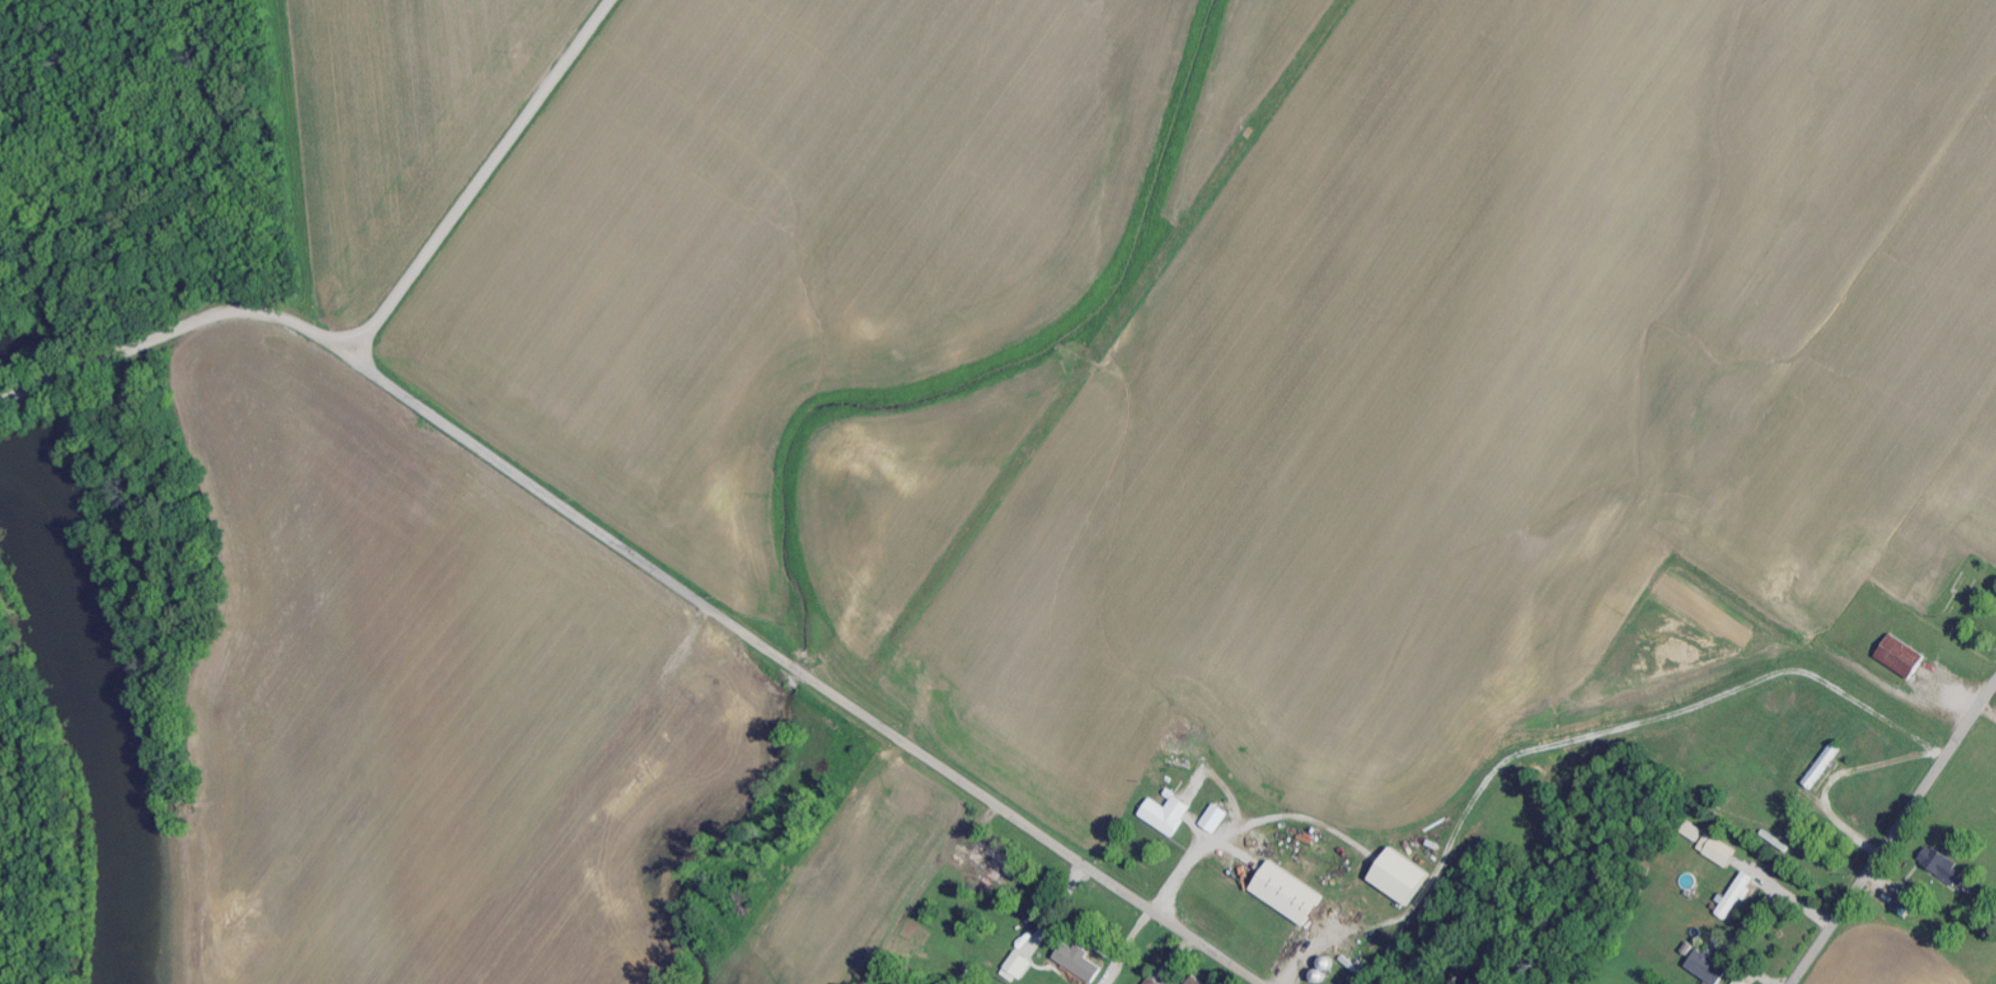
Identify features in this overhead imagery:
road: (481, 179)
road: (79, 443)
road: (648, 565)
building: (1902, 656)
road: (1988, 711)
building: (1176, 735)
building: (1824, 766)
building: (1167, 814)
building: (1215, 819)
road: (1893, 833)
building: (1711, 844)
building: (1942, 865)
building: (1401, 876)
building: (1288, 893)
road: (1789, 895)
building: (1736, 896)
building: (1905, 904)
building: (1080, 962)
building: (1018, 967)
building: (1708, 968)
building: (1362, 969)
building: (1153, 981)
building: (1196, 981)
building: (1740, 982)

